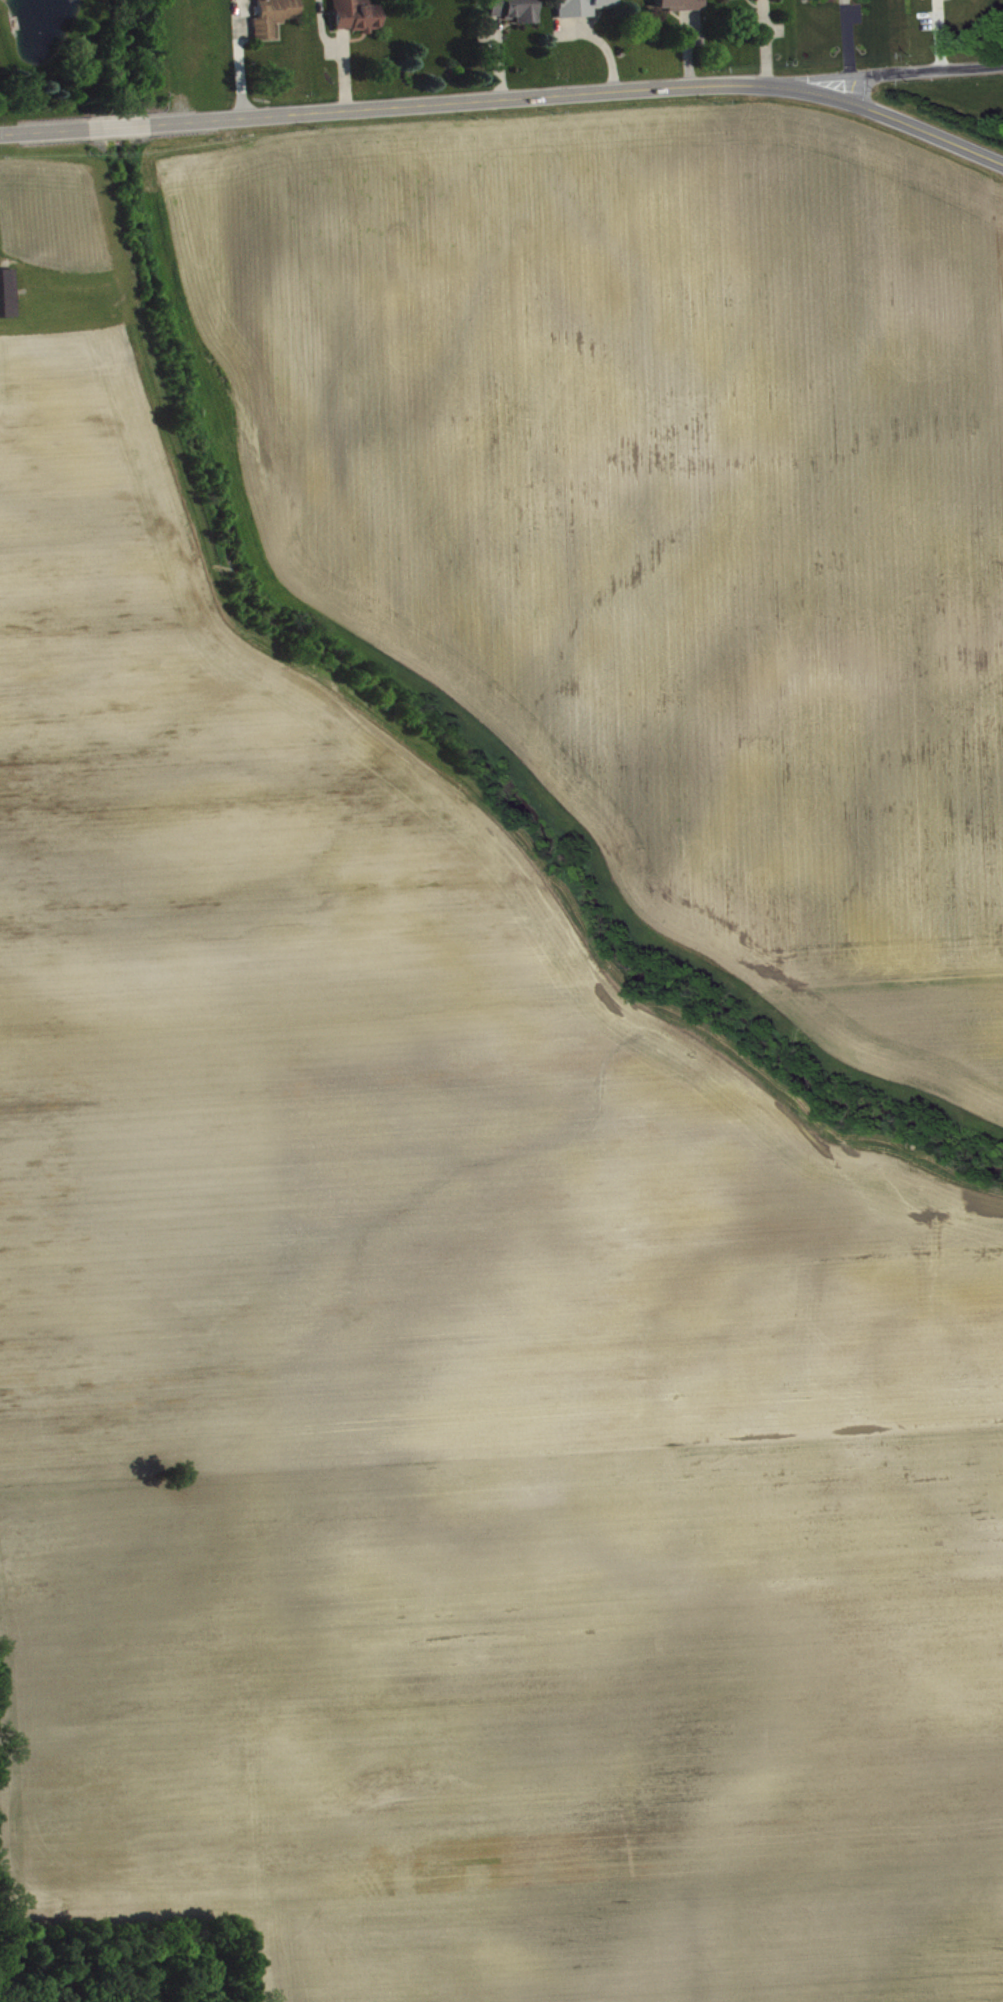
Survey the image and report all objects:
building: (769, 1)
building: (819, 1)
building: (683, 7)
building: (584, 9)
building: (516, 12)
building: (276, 19)
building: (358, 19)
road: (935, 68)
road: (807, 78)
road: (855, 85)
road: (477, 103)
road: (906, 123)
road: (119, 128)
road: (44, 132)
building: (7, 297)

